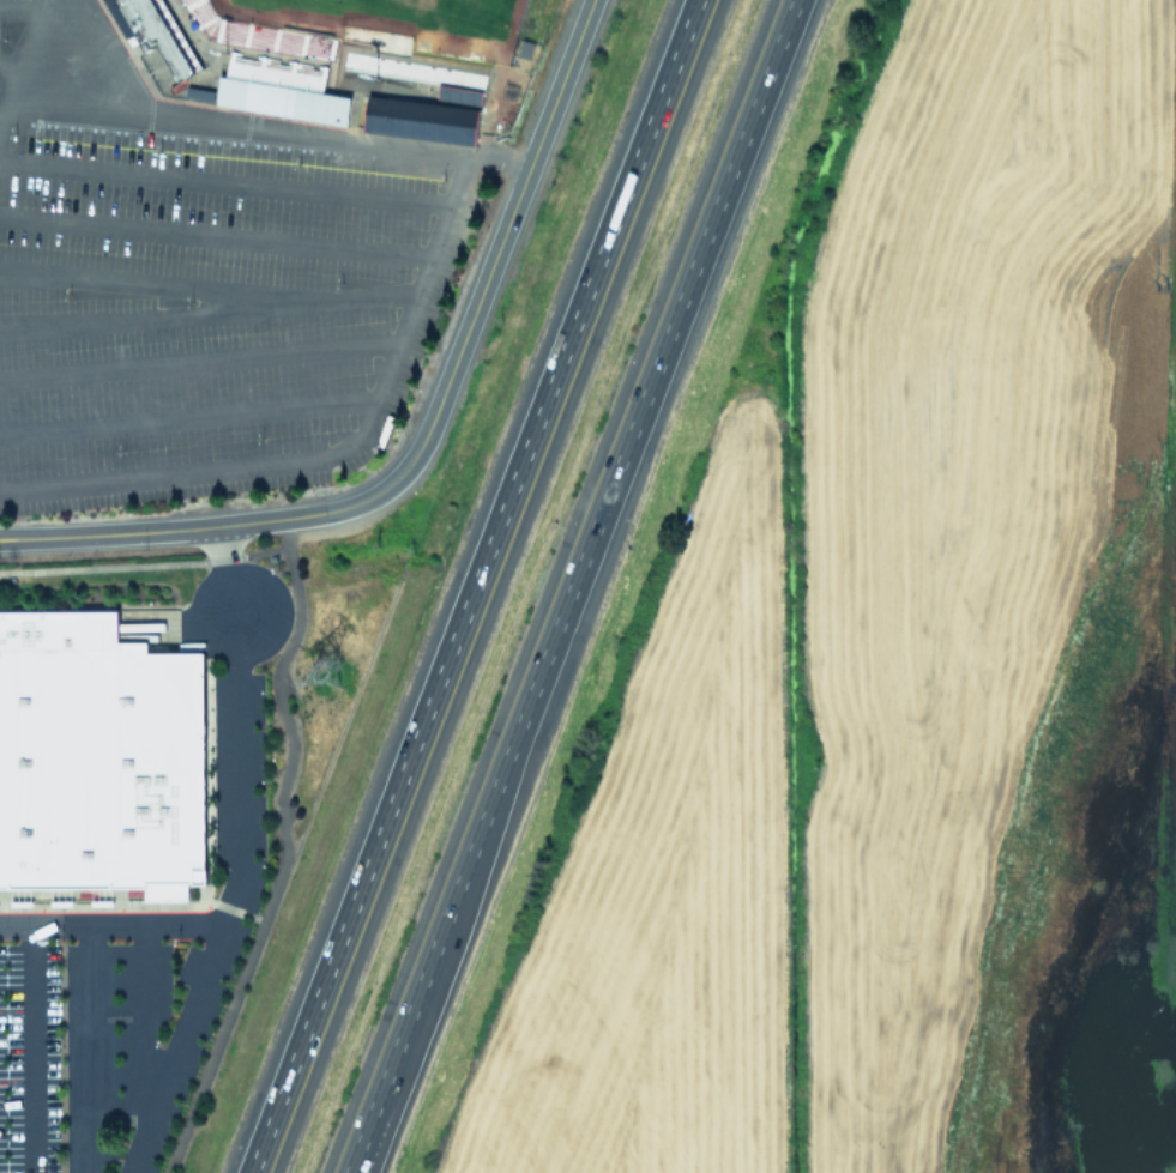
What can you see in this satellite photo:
road: (20, 7)
park: (396, 22)
building: (156, 34)
road: (25, 50)
stadium: (331, 60)
road: (11, 62)
building: (457, 95)
building: (279, 98)
road: (1, 115)
building: (418, 117)
road: (253, 128)
road: (225, 180)
road: (215, 234)
road: (497, 248)
parking lot: (201, 277)
road: (159, 283)
road: (207, 312)
road: (199, 358)
road: (188, 413)
road: (330, 451)
road: (608, 492)
road: (337, 509)
road: (140, 531)
road: (474, 586)
power tower: (325, 665)
crop: (925, 676)
building: (98, 756)
road: (283, 851)
road: (236, 858)
road: (109, 927)
parking lot: (126, 997)
road: (144, 1026)
road: (31, 1051)
road: (88, 1051)
road: (384, 1078)
road: (391, 1078)

